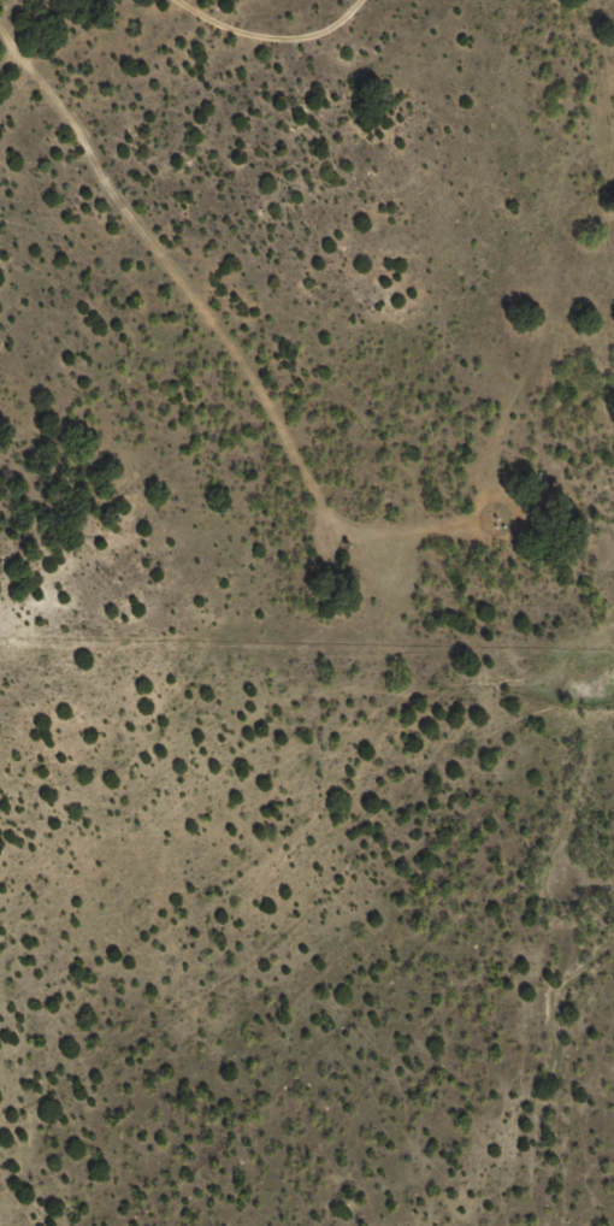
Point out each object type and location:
road: (270, 37)

